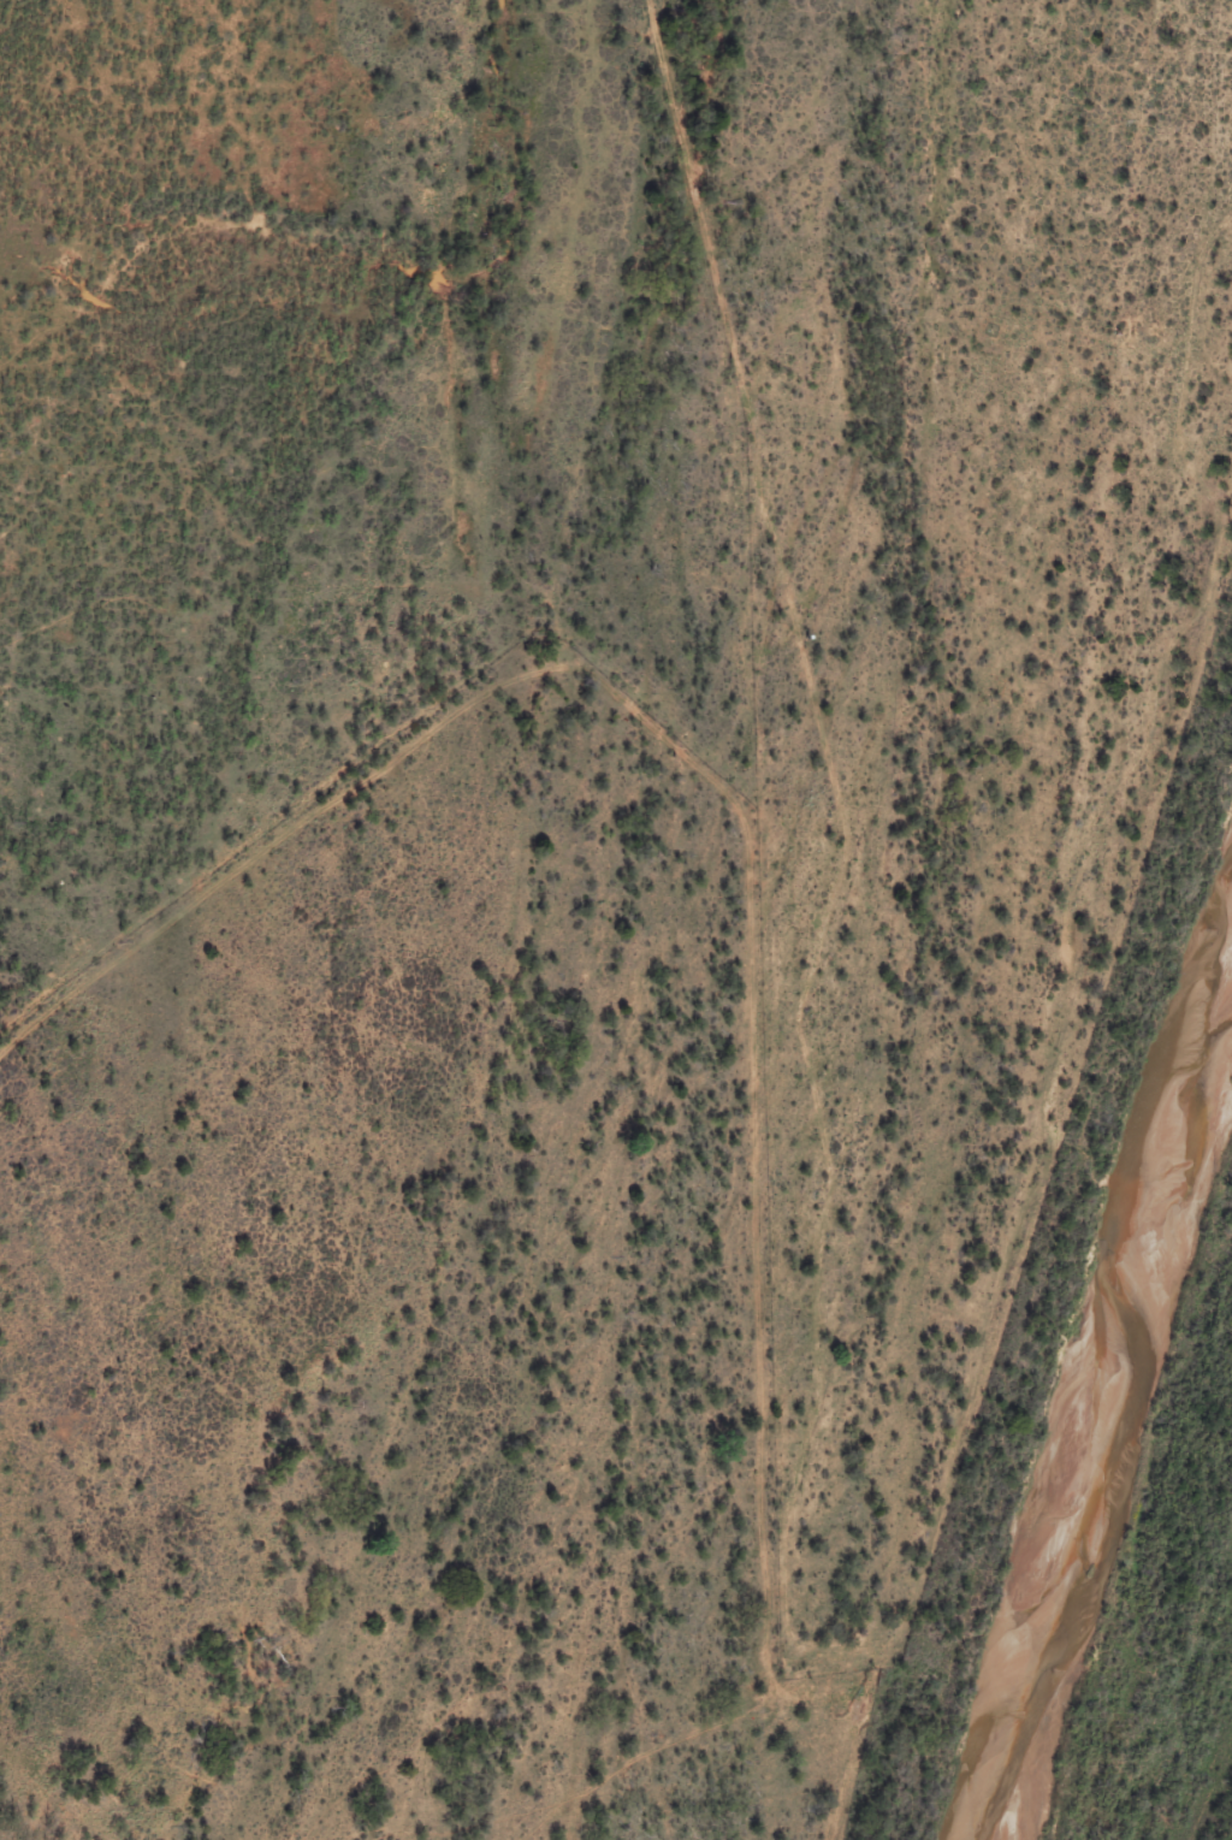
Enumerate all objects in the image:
river: (1076, 1425)

